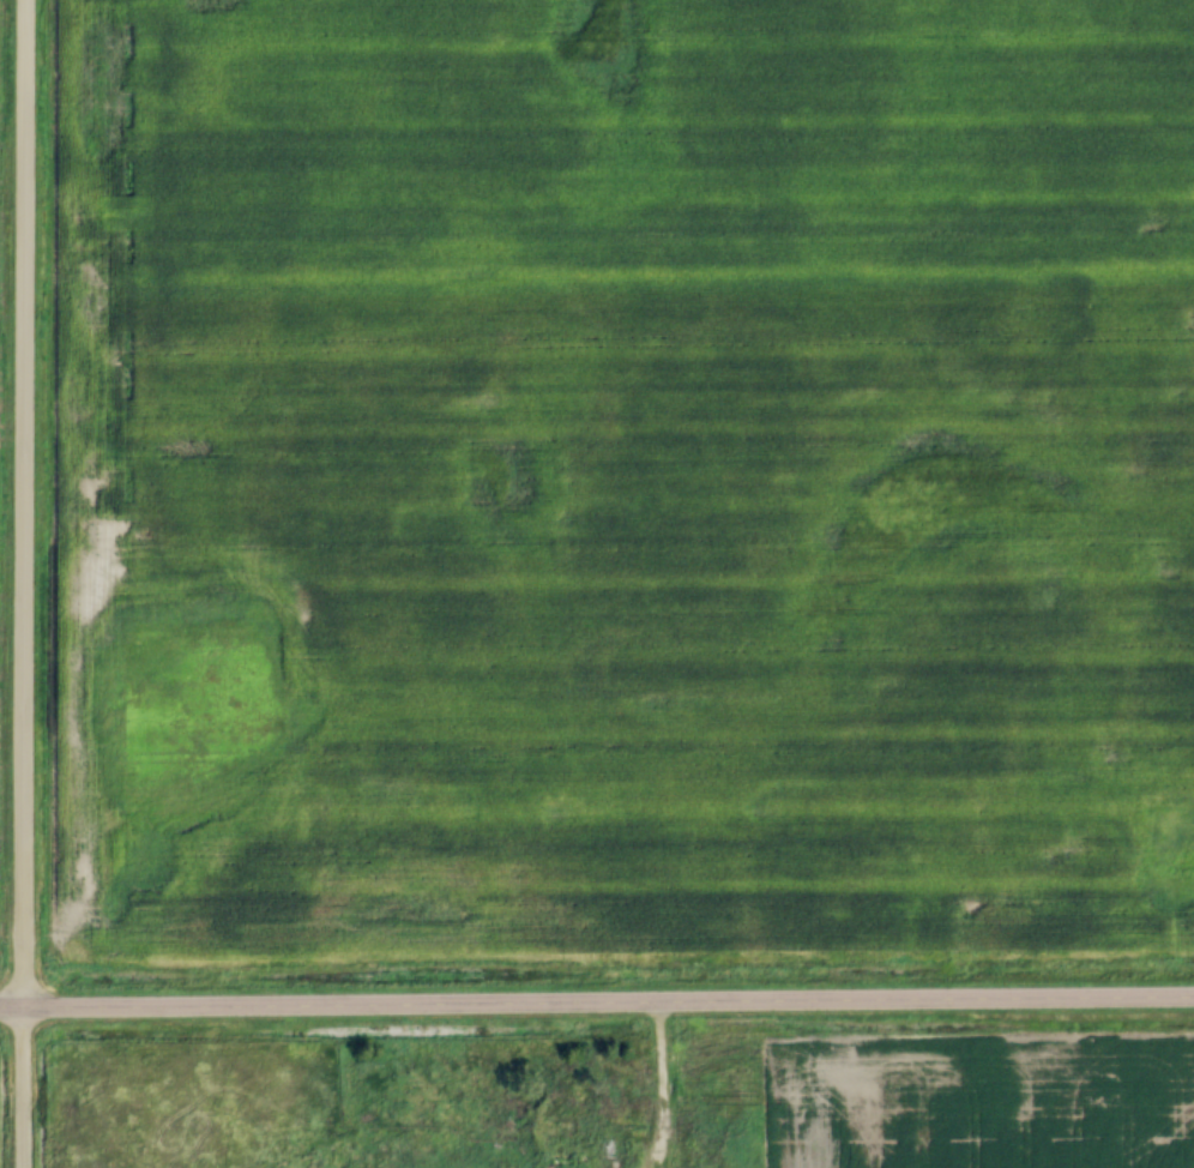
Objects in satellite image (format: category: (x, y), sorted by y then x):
road: (23, 583)
road: (609, 1003)
road: (12, 1006)
road: (662, 1085)
building: (559, 1154)

